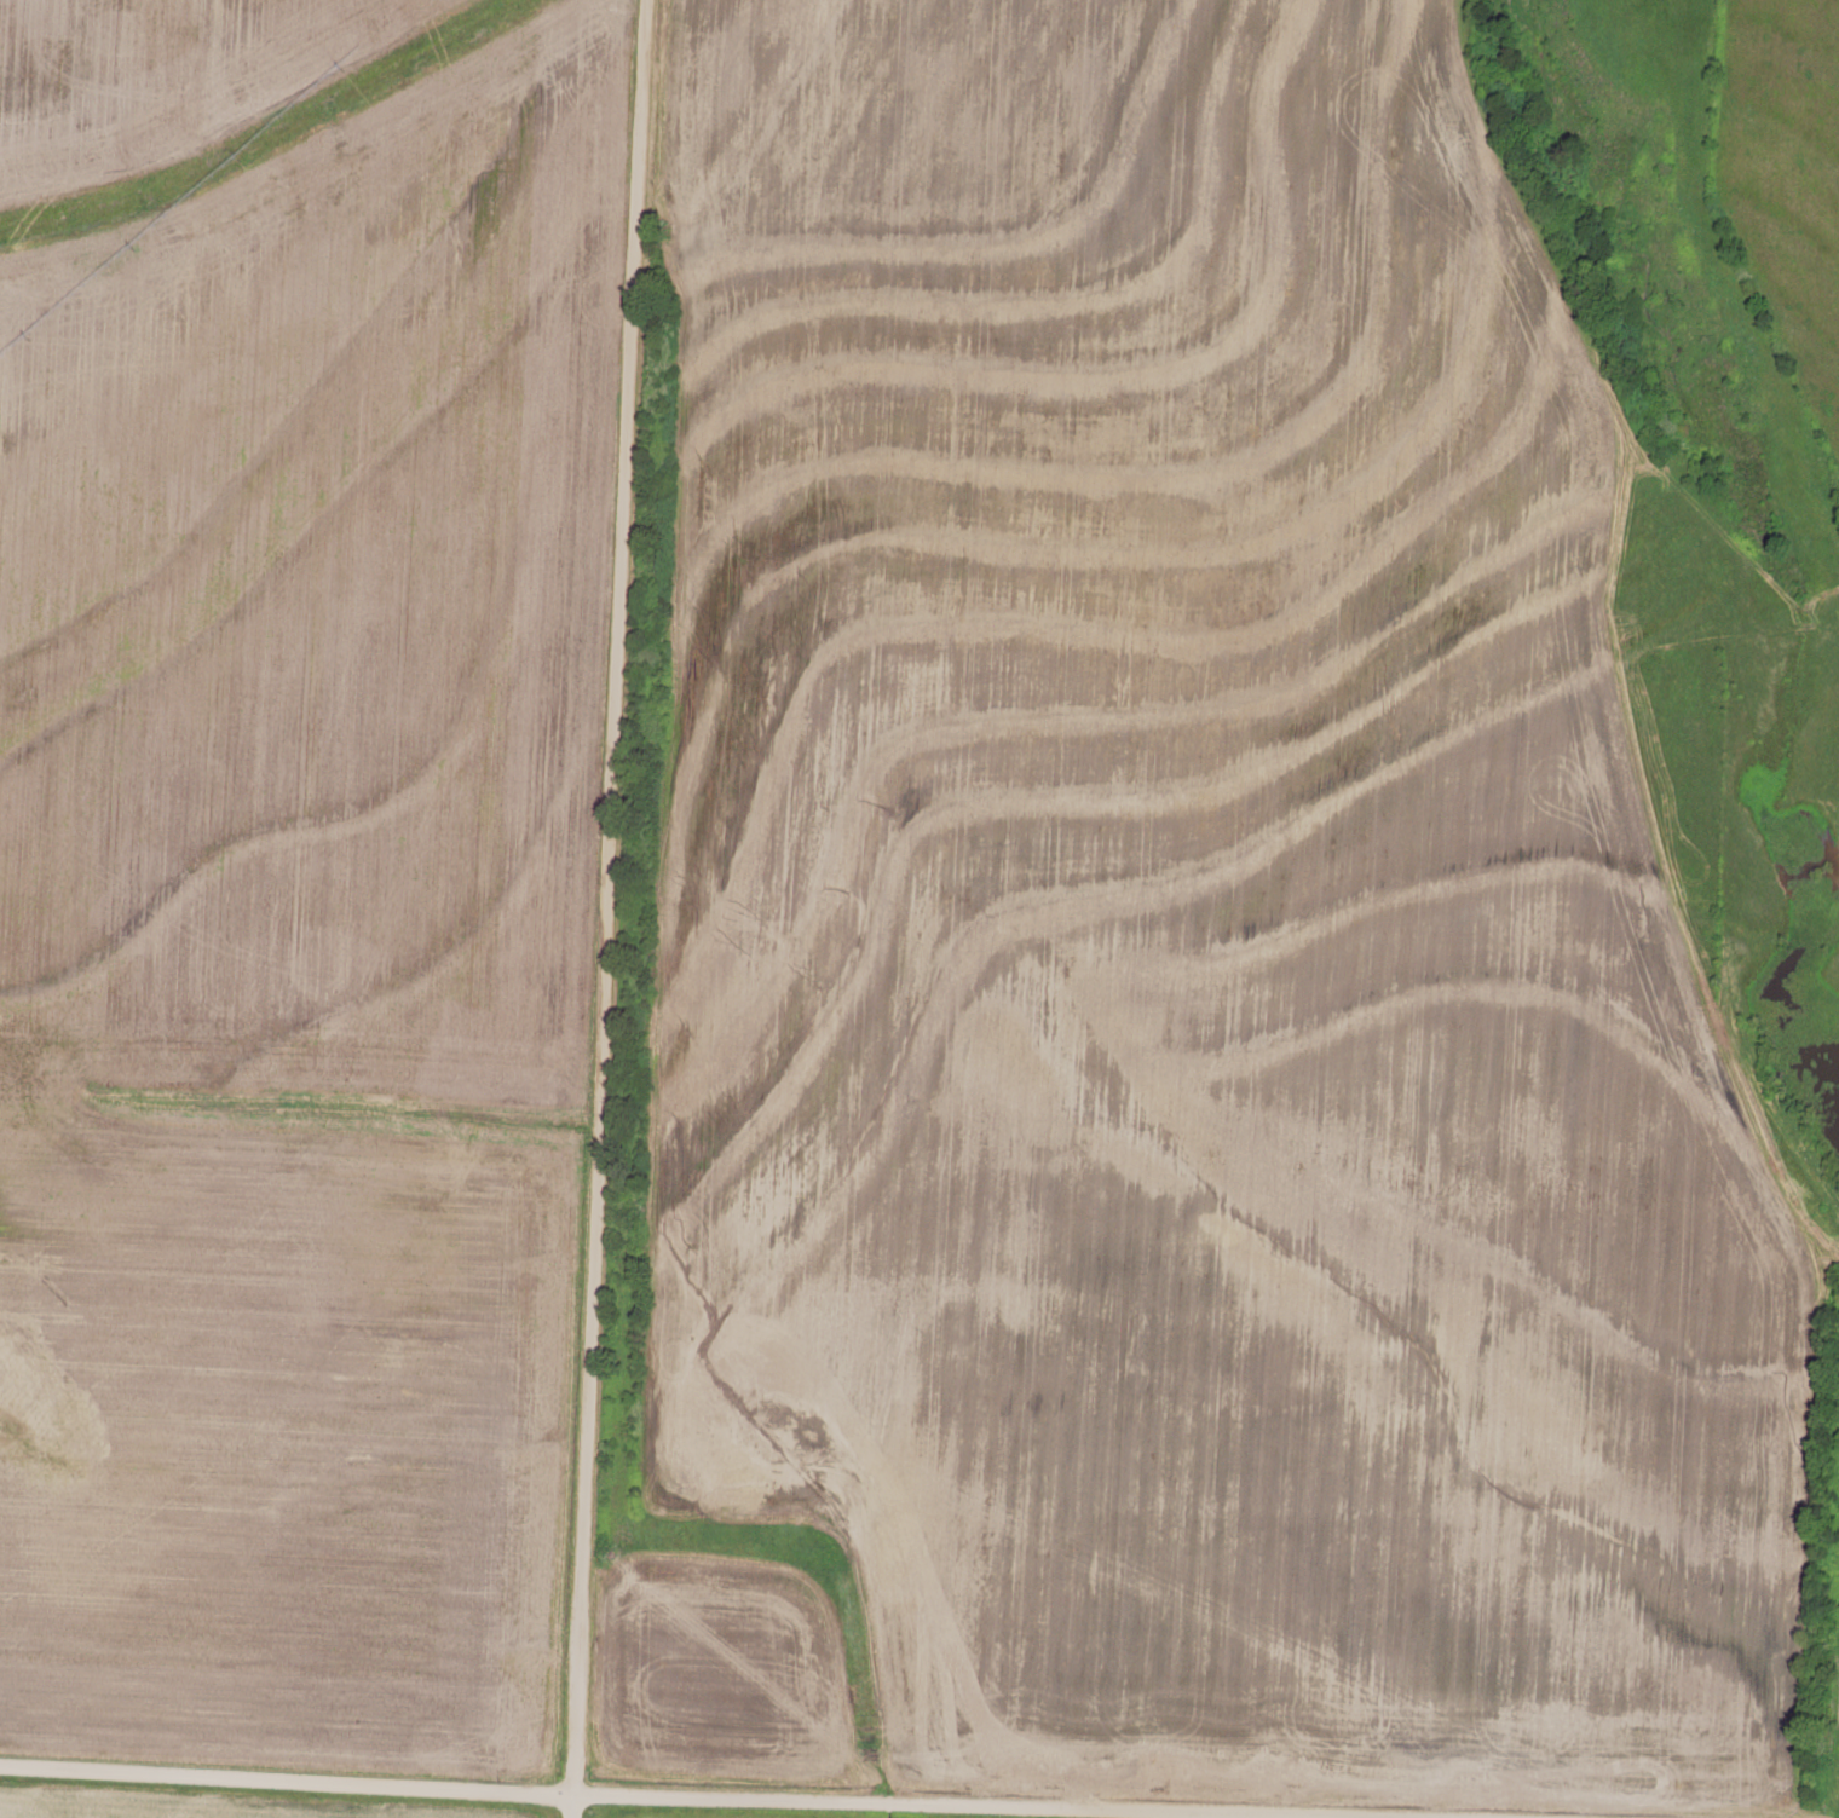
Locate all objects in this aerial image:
road: (613, 908)
road: (710, 1791)

